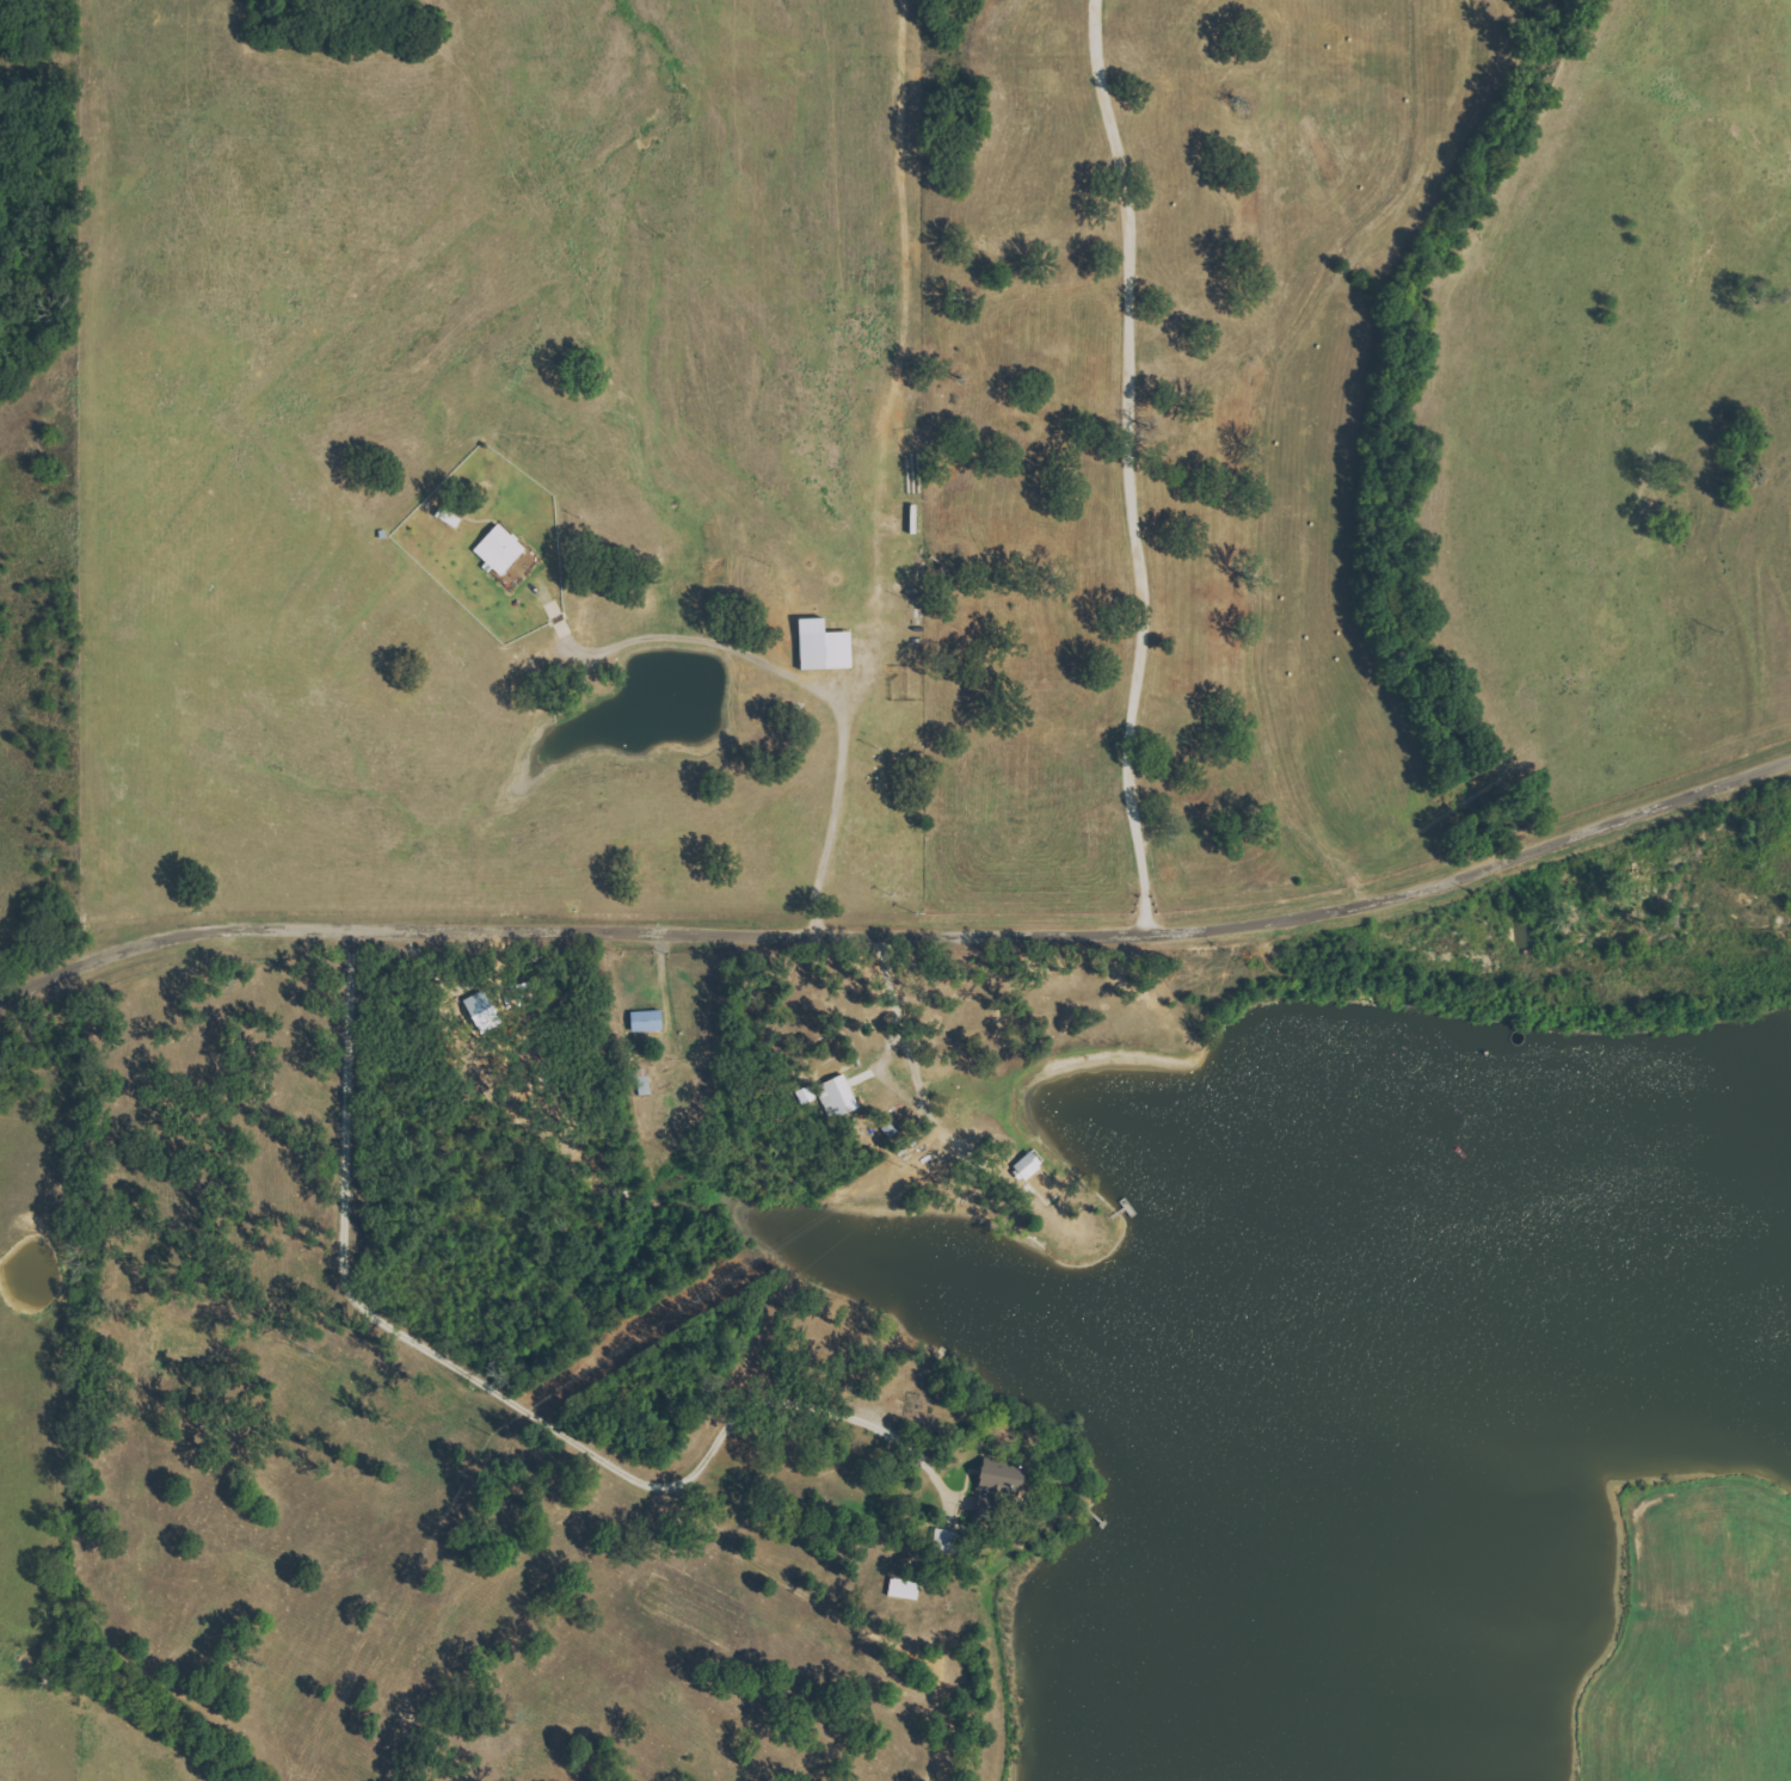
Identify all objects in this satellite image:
road: (1131, 463)
building: (504, 550)
power tower: (1709, 634)
building: (827, 647)
road: (812, 686)
power tower: (1487, 782)
road: (900, 935)
building: (651, 1022)
power tower: (1079, 1044)
power tower: (892, 1167)
power tower: (696, 1301)
road: (505, 1392)
power tower: (485, 1431)
building: (1001, 1489)
building: (907, 1590)
power tower: (377, 1615)

